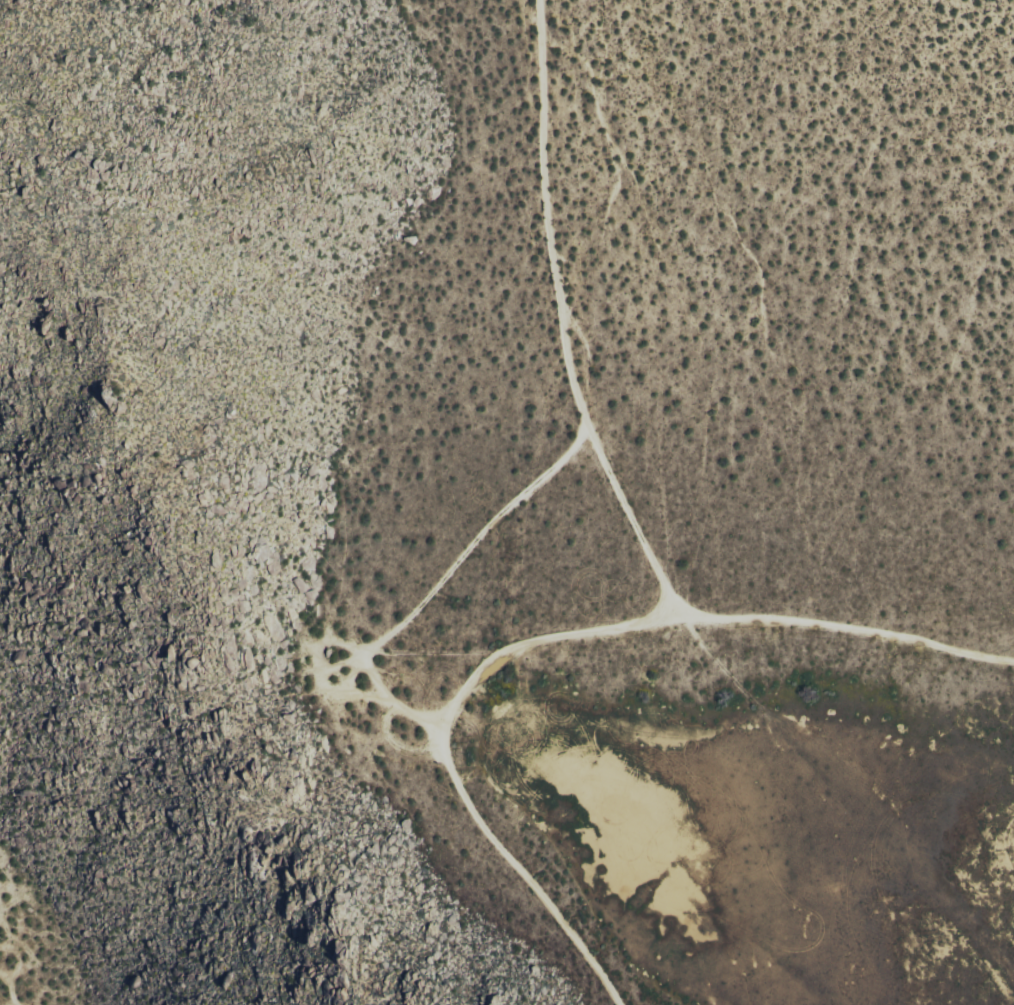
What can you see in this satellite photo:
road: (442, 579)
road: (665, 598)
road: (841, 629)
airport runway: (898, 870)

